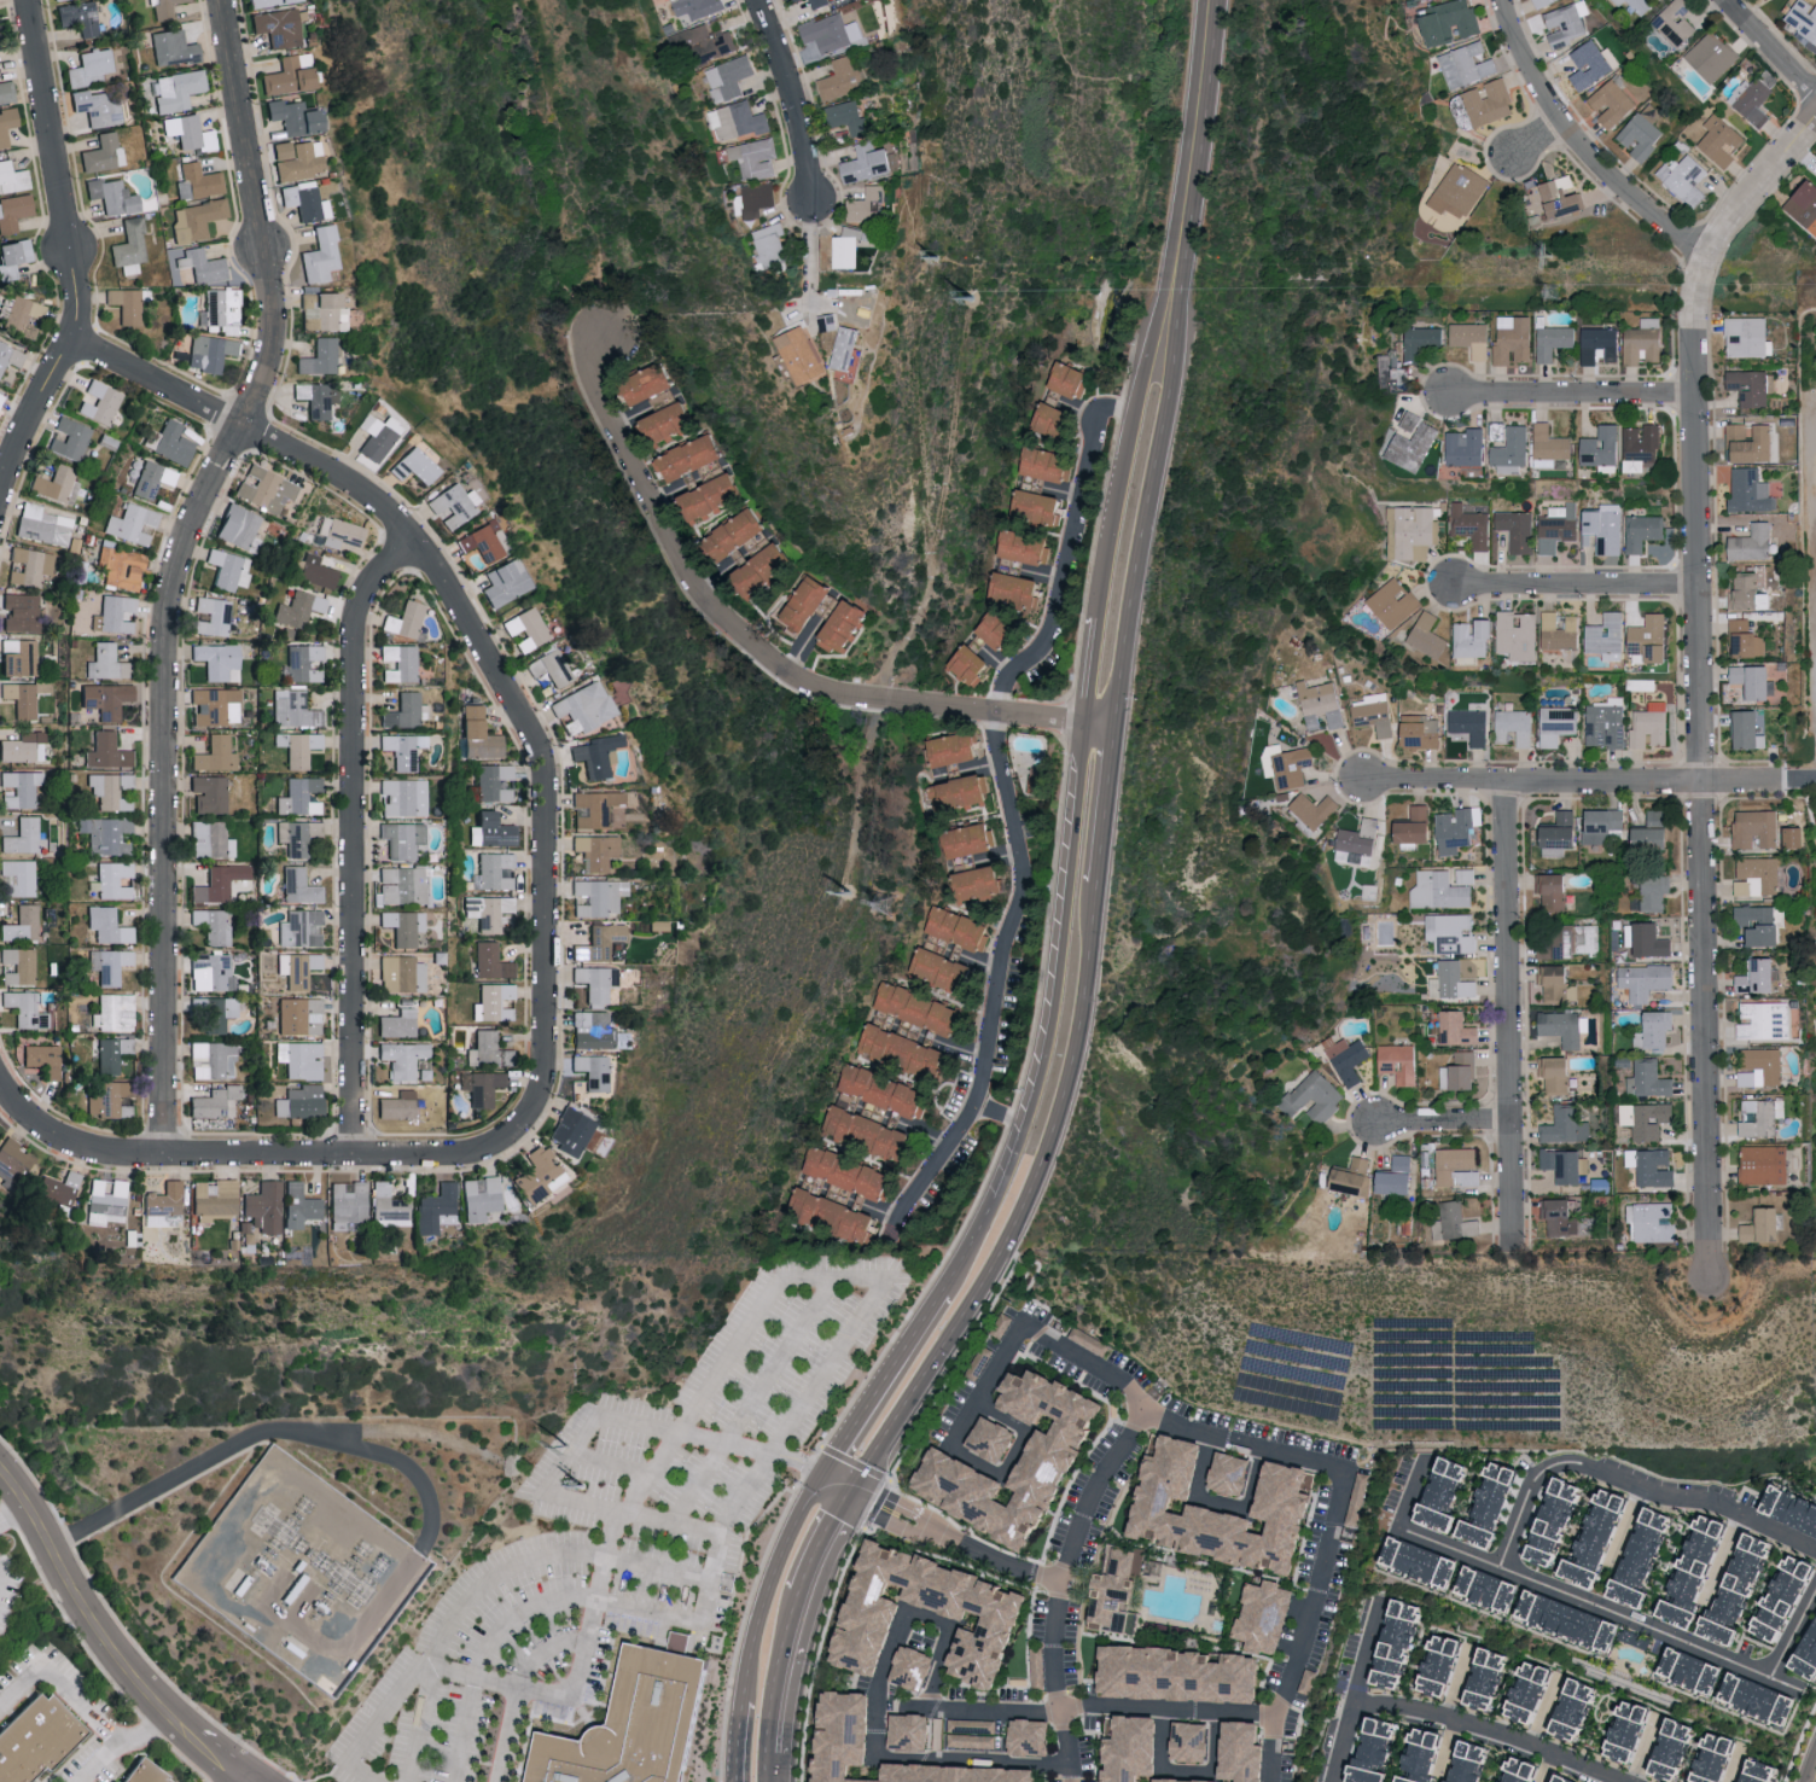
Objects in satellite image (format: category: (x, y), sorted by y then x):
building: (792, 0)
building: (269, 1)
building: (820, 2)
building: (1543, 2)
building: (1640, 5)
building: (699, 7)
building: (164, 8)
building: (81, 17)
building: (1805, 18)
building: (1453, 21)
building: (1680, 21)
building: (1567, 22)
building: (279, 27)
building: (828, 31)
building: (0, 36)
building: (710, 42)
building: (175, 47)
road: (1769, 47)
building: (1713, 56)
building: (1467, 64)
building: (91, 66)
building: (291, 74)
building: (729, 77)
building: (842, 78)
building: (179, 89)
building: (7, 91)
building: (1757, 95)
road: (791, 98)
building: (1491, 101)
building: (1612, 103)
building: (98, 107)
building: (1463, 112)
building: (297, 116)
building: (846, 116)
building: (738, 120)
building: (7, 124)
building: (1645, 130)
building: (190, 132)
building: (1722, 139)
road: (1533, 141)
road: (1193, 148)
road: (1578, 148)
building: (105, 152)
building: (756, 157)
building: (299, 158)
building: (869, 162)
building: (13, 177)
building: (1687, 179)
building: (199, 181)
road: (1758, 188)
building: (1461, 190)
building: (115, 196)
building: (1561, 196)
building: (305, 199)
building: (757, 199)
building: (871, 204)
building: (1804, 205)
building: (14, 211)
building: (198, 219)
building: (132, 246)
building: (772, 246)
building: (851, 246)
power tower: (1549, 252)
building: (320, 255)
building: (14, 257)
road: (71, 258)
road: (811, 261)
power tower: (944, 262)
building: (205, 264)
power tower: (1555, 293)
power tower: (976, 301)
building: (128, 303)
building: (223, 310)
building: (324, 310)
building: (21, 314)
building: (830, 321)
building: (1748, 336)
building: (1473, 338)
building: (1514, 339)
building: (1424, 340)
building: (1555, 340)
building: (1643, 340)
building: (1599, 344)
building: (846, 346)
building: (211, 351)
building: (802, 354)
building: (10, 356)
building: (320, 356)
building: (1390, 367)
building: (1071, 379)
building: (654, 386)
building: (1753, 386)
road: (1571, 396)
building: (1, 397)
building: (318, 397)
building: (101, 402)
building: (1052, 417)
building: (670, 423)
building: (1498, 430)
building: (379, 436)
building: (71, 438)
building: (171, 442)
building: (1415, 442)
building: (1752, 443)
building: (1550, 445)
building: (1466, 447)
building: (1643, 447)
building: (1603, 448)
building: (1513, 450)
road: (1125, 455)
building: (689, 456)
building: (1048, 464)
building: (415, 466)
building: (704, 474)
building: (153, 478)
building: (58, 484)
building: (267, 489)
building: (1752, 490)
building: (714, 497)
building: (453, 505)
building: (1038, 505)
road: (1146, 508)
building: (133, 523)
building: (45, 524)
building: (1471, 524)
building: (239, 525)
building: (1558, 526)
building: (1605, 528)
building: (1412, 529)
building: (1518, 529)
building: (1643, 531)
building: (343, 532)
building: (738, 532)
building: (484, 542)
building: (1754, 542)
building: (1025, 547)
building: (750, 551)
road: (1066, 552)
building: (1425, 552)
building: (33, 566)
building: (123, 567)
road: (176, 567)
building: (229, 569)
building: (318, 570)
building: (763, 570)
building: (507, 582)
road: (1576, 584)
building: (1019, 588)
building: (1750, 593)
building: (1396, 601)
building: (809, 602)
building: (301, 607)
building: (22, 612)
road: (456, 613)
building: (115, 615)
building: (214, 616)
building: (406, 619)
building: (846, 625)
building: (528, 628)
building: (1001, 630)
building: (1560, 630)
road: (743, 634)
building: (1518, 634)
building: (1430, 635)
building: (1607, 635)
building: (1474, 637)
building: (1652, 639)
building: (1748, 639)
building: (21, 656)
building: (219, 658)
building: (107, 662)
building: (305, 662)
building: (400, 663)
building: (972, 664)
building: (552, 668)
road: (1090, 668)
building: (1758, 680)
building: (107, 699)
building: (1322, 704)
building: (217, 705)
building: (584, 707)
building: (295, 710)
building: (407, 710)
building: (1374, 712)
road: (1099, 718)
building: (1606, 722)
building: (1558, 723)
building: (1472, 724)
building: (1651, 724)
building: (1515, 727)
building: (1750, 728)
building: (1422, 732)
building: (482, 734)
building: (25, 746)
building: (299, 746)
building: (959, 747)
building: (404, 749)
building: (109, 751)
building: (217, 753)
building: (599, 753)
building: (1290, 764)
road: (1700, 768)
road: (1802, 779)
road: (1806, 779)
road: (1812, 779)
building: (496, 781)
road: (1579, 782)
building: (22, 787)
building: (111, 790)
building: (962, 792)
building: (210, 793)
building: (301, 796)
building: (404, 797)
road: (1106, 800)
building: (606, 809)
building: (1315, 809)
building: (1605, 825)
building: (1416, 826)
building: (1459, 828)
building: (1757, 828)
building: (494, 831)
building: (1654, 832)
building: (1562, 833)
building: (105, 834)
building: (24, 835)
building: (298, 835)
building: (211, 839)
road: (354, 839)
building: (403, 839)
building: (970, 839)
building: (1358, 840)
building: (598, 850)
building: (495, 872)
building: (1466, 875)
building: (21, 877)
building: (1759, 877)
building: (112, 880)
building: (979, 881)
building: (220, 883)
building: (301, 886)
building: (401, 886)
building: (1440, 890)
building: (1556, 891)
building: (1652, 891)
building: (600, 896)
power tower: (852, 896)
power tower: (887, 904)
building: (490, 910)
building: (24, 924)
building: (109, 925)
building: (214, 925)
building: (403, 925)
building: (1762, 925)
building: (960, 926)
building: (302, 927)
building: (1453, 931)
building: (600, 942)
building: (1570, 942)
building: (493, 961)
road: (1059, 962)
building: (24, 963)
building: (110, 965)
building: (299, 967)
building: (944, 969)
building: (213, 972)
building: (402, 973)
building: (1759, 976)
building: (1647, 979)
building: (1453, 980)
building: (1556, 982)
building: (598, 983)
road: (996, 991)
building: (495, 1002)
building: (27, 1008)
building: (924, 1008)
building: (113, 1012)
building: (215, 1012)
building: (302, 1015)
building: (881, 1017)
road: (1508, 1018)
building: (1764, 1020)
building: (400, 1024)
building: (1564, 1026)
building: (1459, 1029)
building: (594, 1030)
building: (1658, 1030)
building: (485, 1049)
building: (906, 1050)
building: (112, 1053)
building: (404, 1058)
building: (1349, 1058)
building: (45, 1059)
building: (213, 1059)
building: (302, 1059)
building: (1402, 1062)
building: (1762, 1066)
building: (594, 1070)
building: (1461, 1071)
building: (1558, 1073)
building: (1651, 1078)
building: (487, 1088)
building: (886, 1090)
building: (1316, 1097)
building: (109, 1100)
building: (302, 1101)
building: (217, 1102)
building: (402, 1105)
road: (1000, 1116)
building: (1647, 1118)
road: (1443, 1120)
building: (1566, 1125)
building: (574, 1130)
building: (868, 1131)
road: (280, 1157)
building: (14, 1160)
building: (1565, 1164)
building: (1765, 1164)
building: (1653, 1165)
building: (1457, 1166)
building: (850, 1172)
building: (541, 1174)
building: (1355, 1176)
building: (1398, 1176)
building: (62, 1189)
building: (483, 1198)
building: (216, 1199)
building: (107, 1200)
building: (168, 1201)
building: (350, 1204)
building: (302, 1205)
road: (1021, 1205)
building: (266, 1206)
building: (391, 1206)
building: (440, 1209)
building: (834, 1215)
building: (1561, 1215)
building: (1654, 1221)
building: (1455, 1222)
building: (1764, 1225)
road: (972, 1244)
building: (1005, 1324)
road: (881, 1379)
road: (755, 1399)
road: (257, 1432)
building: (991, 1440)
road: (750, 1446)
power tower: (567, 1448)
road: (570, 1451)
road: (1281, 1455)
road: (610, 1462)
building: (1046, 1464)
road: (764, 1466)
traffic signals: (822, 1472)
road: (650, 1473)
road: (1001, 1473)
building: (1227, 1474)
road: (834, 1479)
road: (1629, 1485)
power tower: (584, 1487)
building: (1442, 1496)
building: (1504, 1501)
building: (1282, 1502)
road: (1222, 1503)
building: (1488, 1506)
building: (1791, 1508)
road: (19, 1509)
building: (1554, 1522)
parking lot: (625, 1527)
road: (1625, 1528)
road: (1413, 1534)
road: (819, 1538)
building: (1593, 1538)
road: (950, 1542)
road: (1724, 1560)
building: (1641, 1561)
building: (1418, 1563)
building: (1690, 1573)
power substation: (304, 1574)
road: (493, 1578)
road: (769, 1579)
road: (1061, 1585)
building: (1121, 1589)
building: (1483, 1590)
building: (1734, 1590)
building: (1781, 1600)
road: (613, 1603)
building: (1261, 1617)
building: (868, 1618)
building: (1567, 1624)
road: (1649, 1626)
road: (109, 1627)
road: (1793, 1633)
building: (1395, 1647)
building: (1805, 1660)
building: (1436, 1667)
building: (912, 1670)
road: (776, 1671)
building: (1687, 1671)
road: (496, 1679)
building: (1178, 1679)
building: (1483, 1679)
building: (1722, 1679)
road: (1456, 1682)
road: (1357, 1691)
building: (1526, 1691)
building: (1756, 1700)
road: (386, 1704)
road: (1089, 1705)
road: (1546, 1711)
building: (1575, 1711)
road: (82, 1712)
road: (875, 1713)
road: (462, 1728)
building: (642, 1728)
road: (1492, 1729)
building: (1626, 1730)
building: (974, 1732)
building: (840, 1735)
building: (907, 1735)
road: (737, 1737)
building: (37, 1739)
building: (1028, 1739)
building: (1194, 1742)
road: (1448, 1747)
road: (1646, 1748)
building: (1129, 1749)
building: (1244, 1751)
building: (1374, 1751)
building: (1671, 1751)
building: (1420, 1755)
building: (1712, 1759)
road: (1810, 1763)
road: (97, 1764)
building: (1467, 1764)
road: (1736, 1765)
road: (767, 1768)
road: (1548, 1768)
road: (1188, 1770)
building: (1517, 1770)
building: (1758, 1772)
building: (149, 1774)
building: (950, 1776)
building: (1559, 1780)
building: (1573, 1780)
building: (117, 1781)
building: (1188, 1781)

